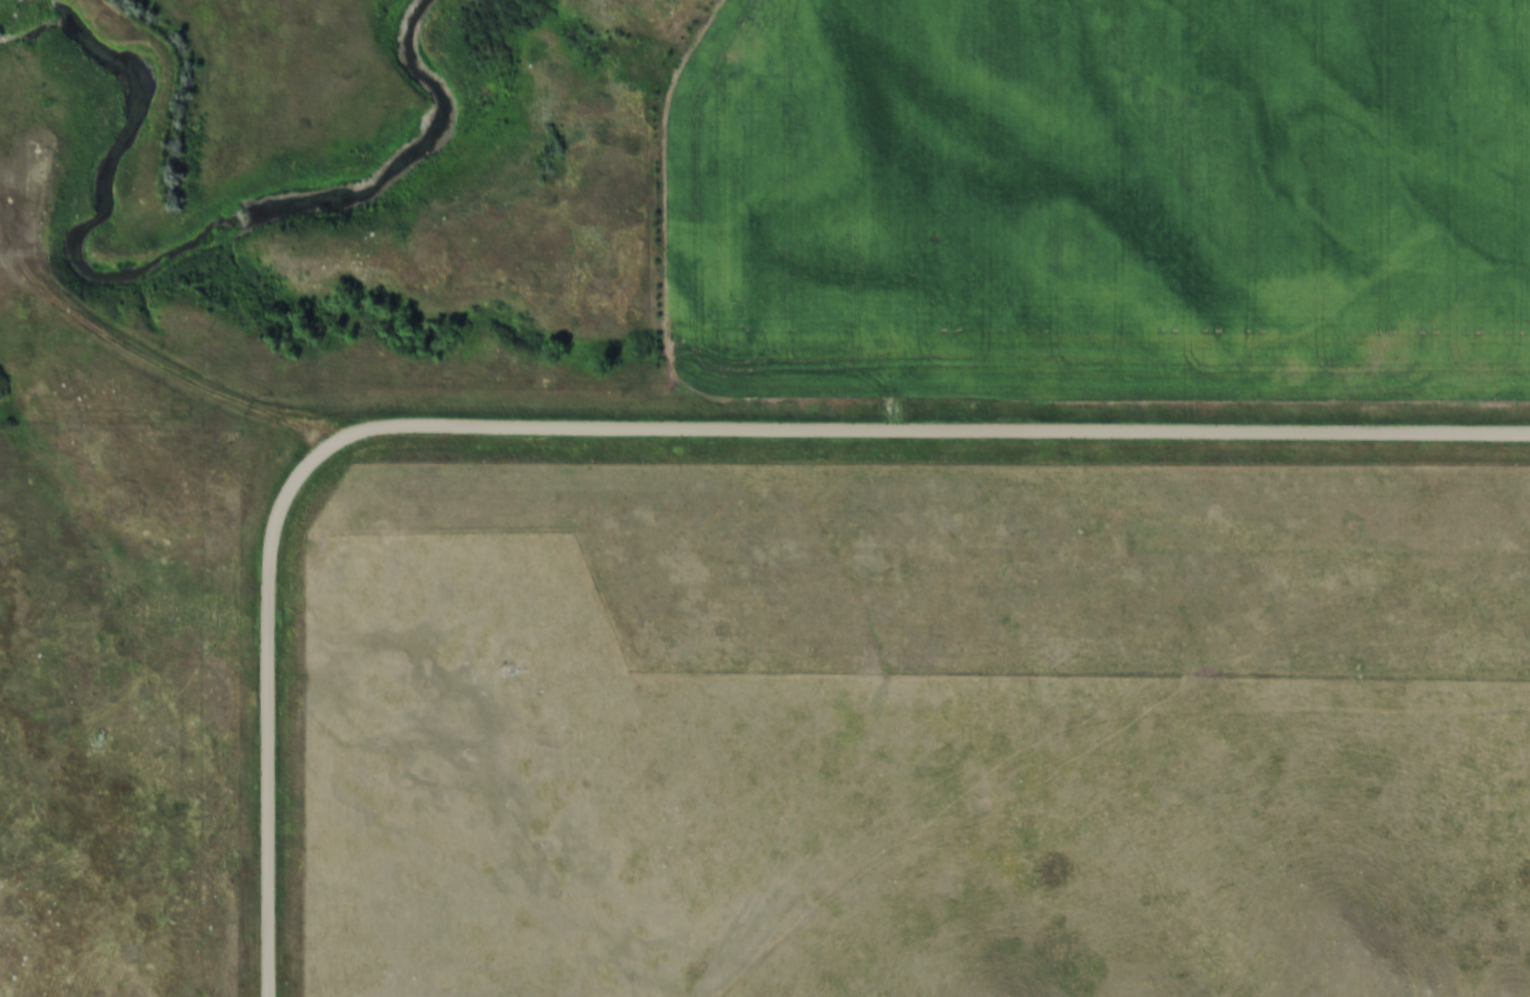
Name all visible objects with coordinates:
road: (915, 431)
road: (272, 726)

